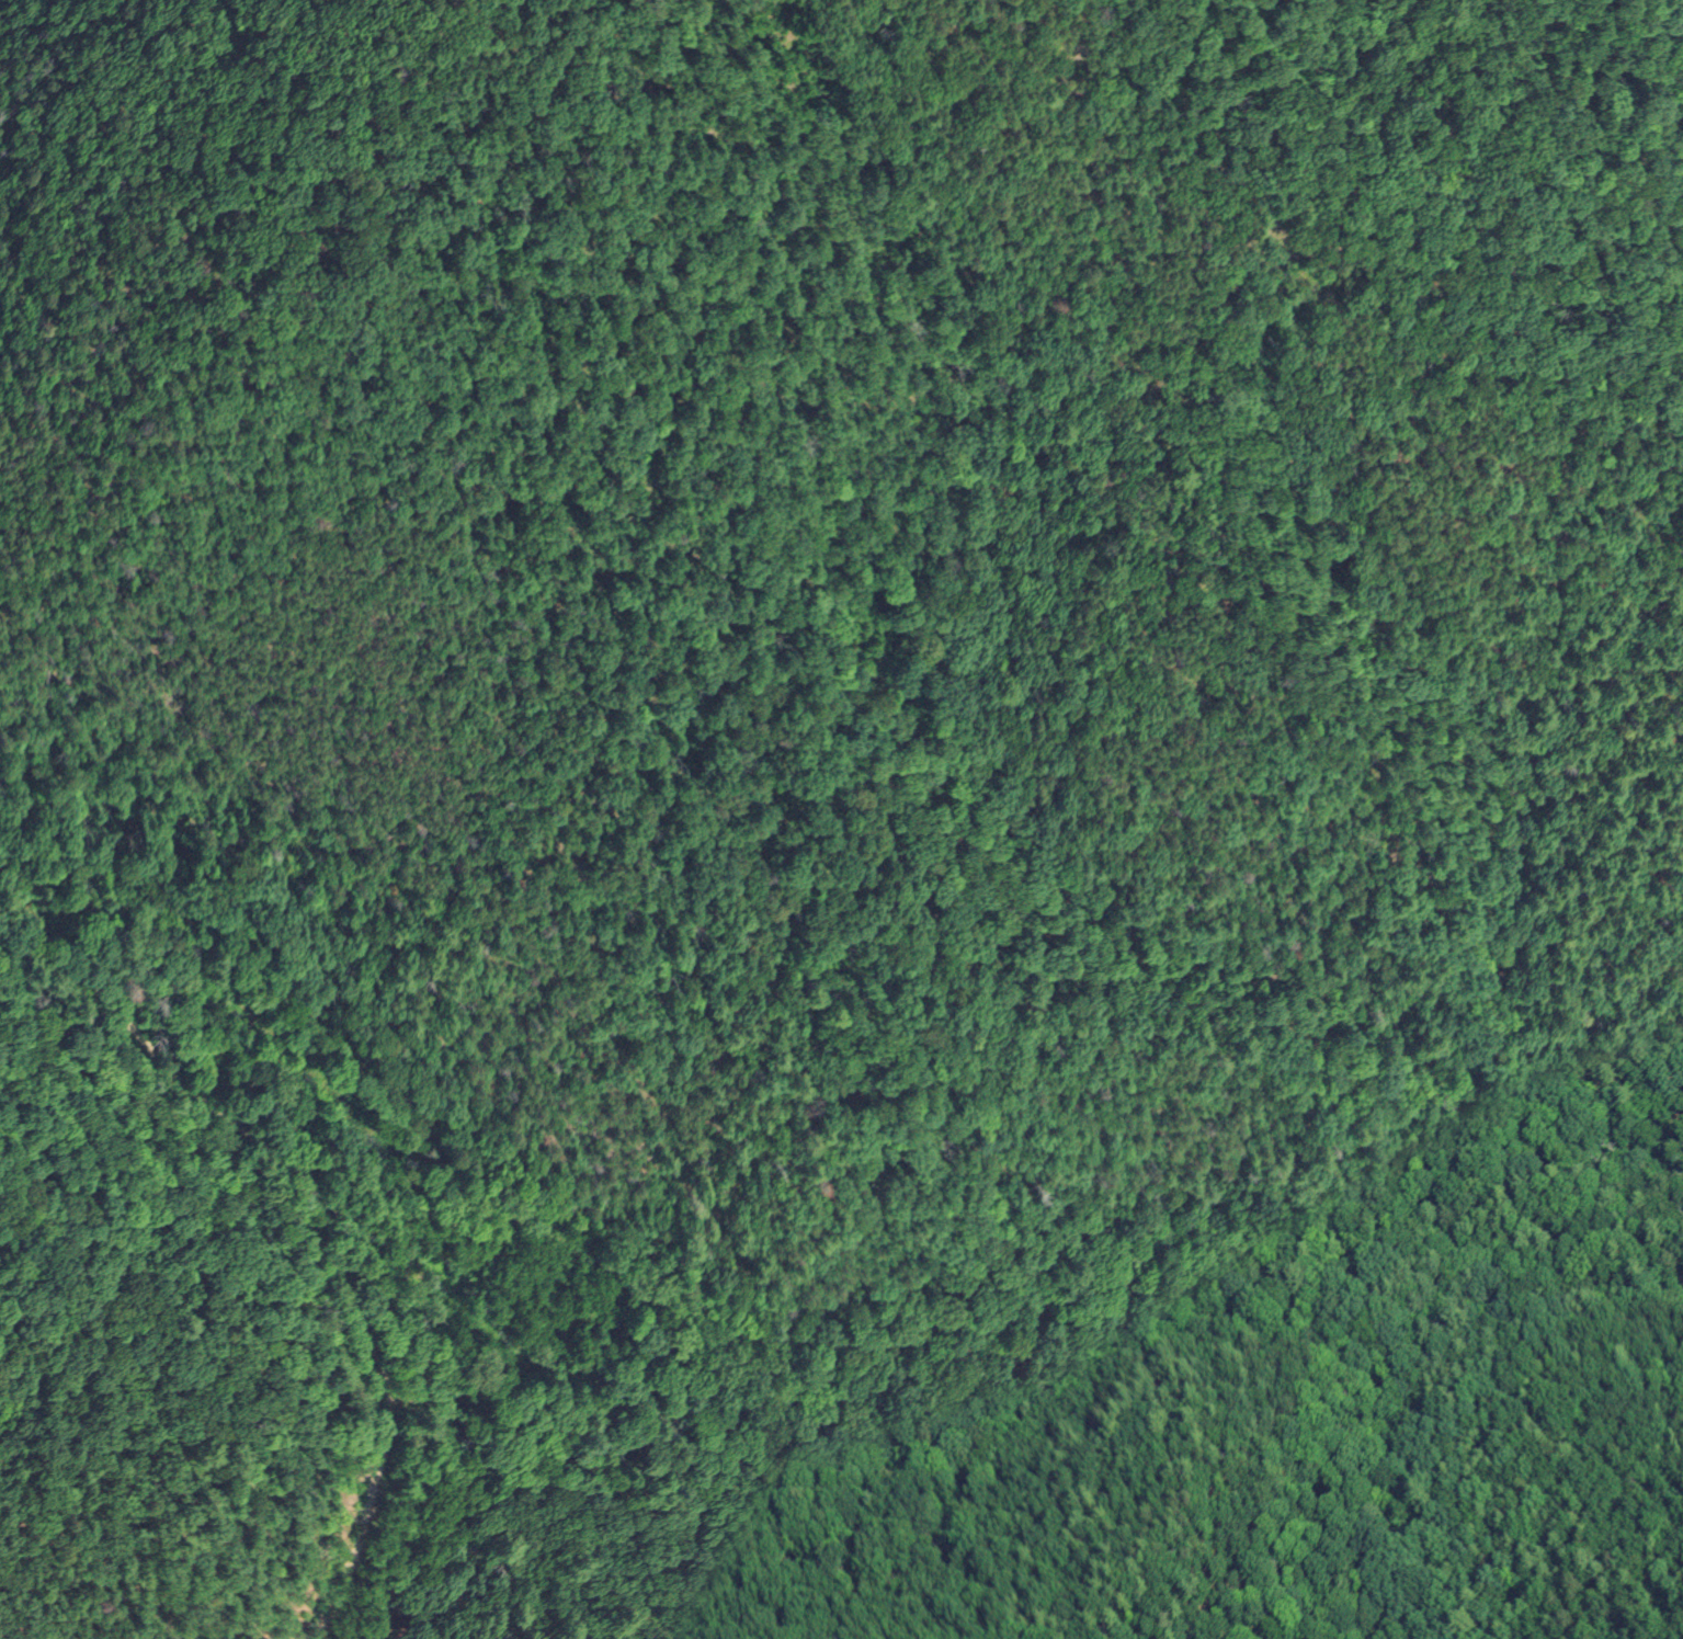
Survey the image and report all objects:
road: (326, 1220)

